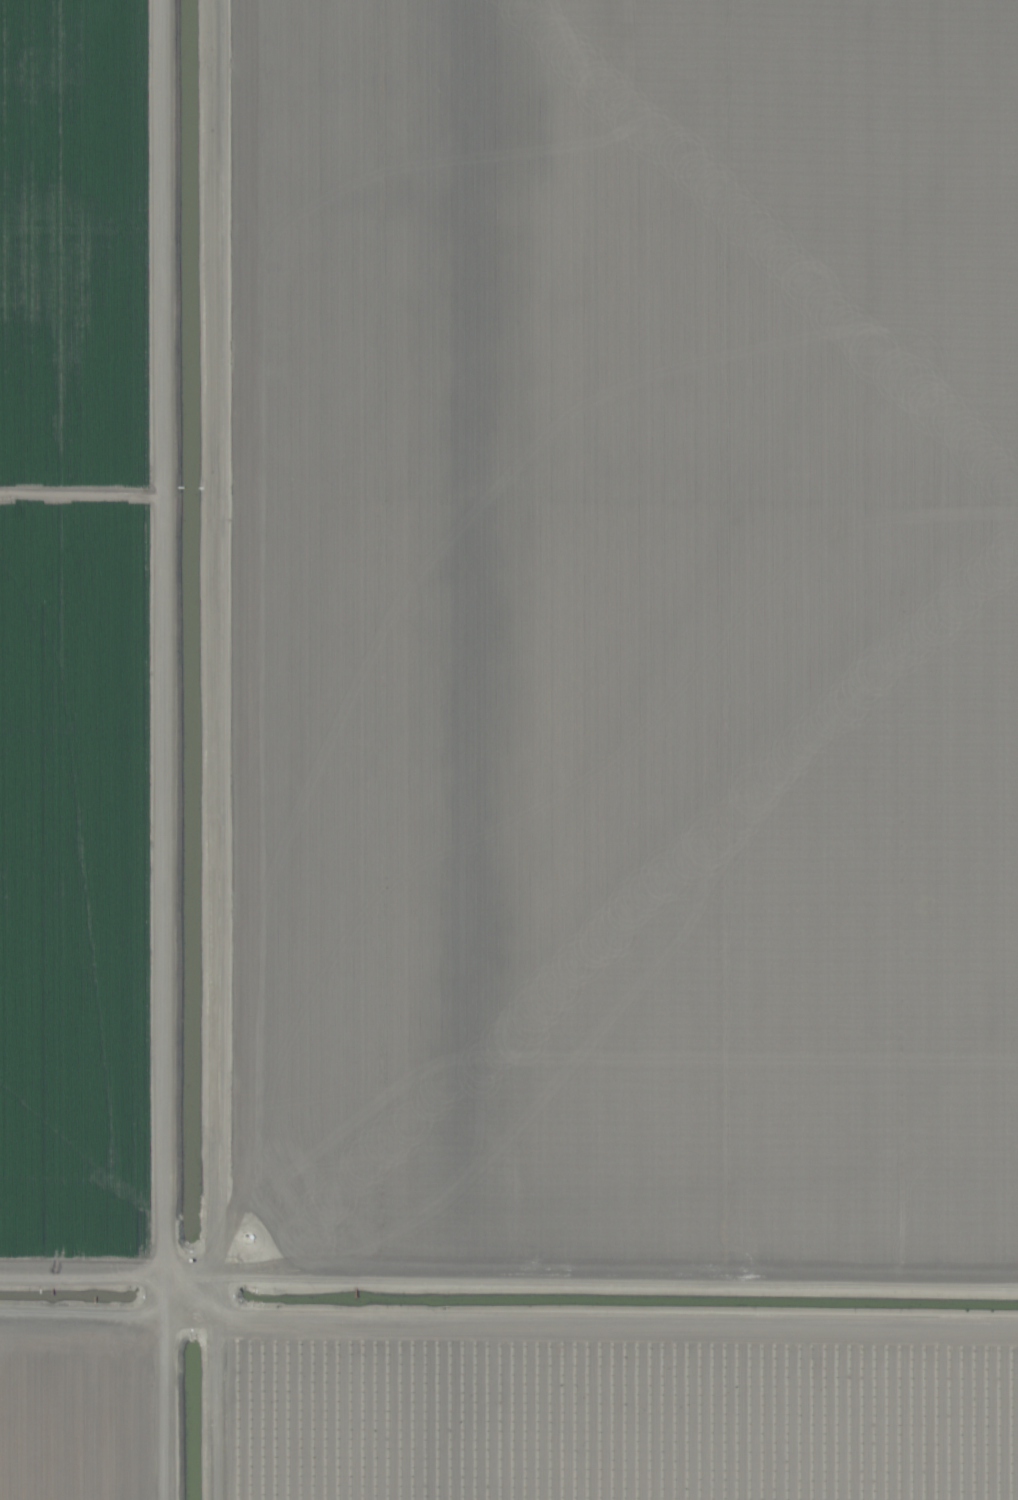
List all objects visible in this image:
road: (167, 750)
crop: (509, 750)
road: (508, 1291)

